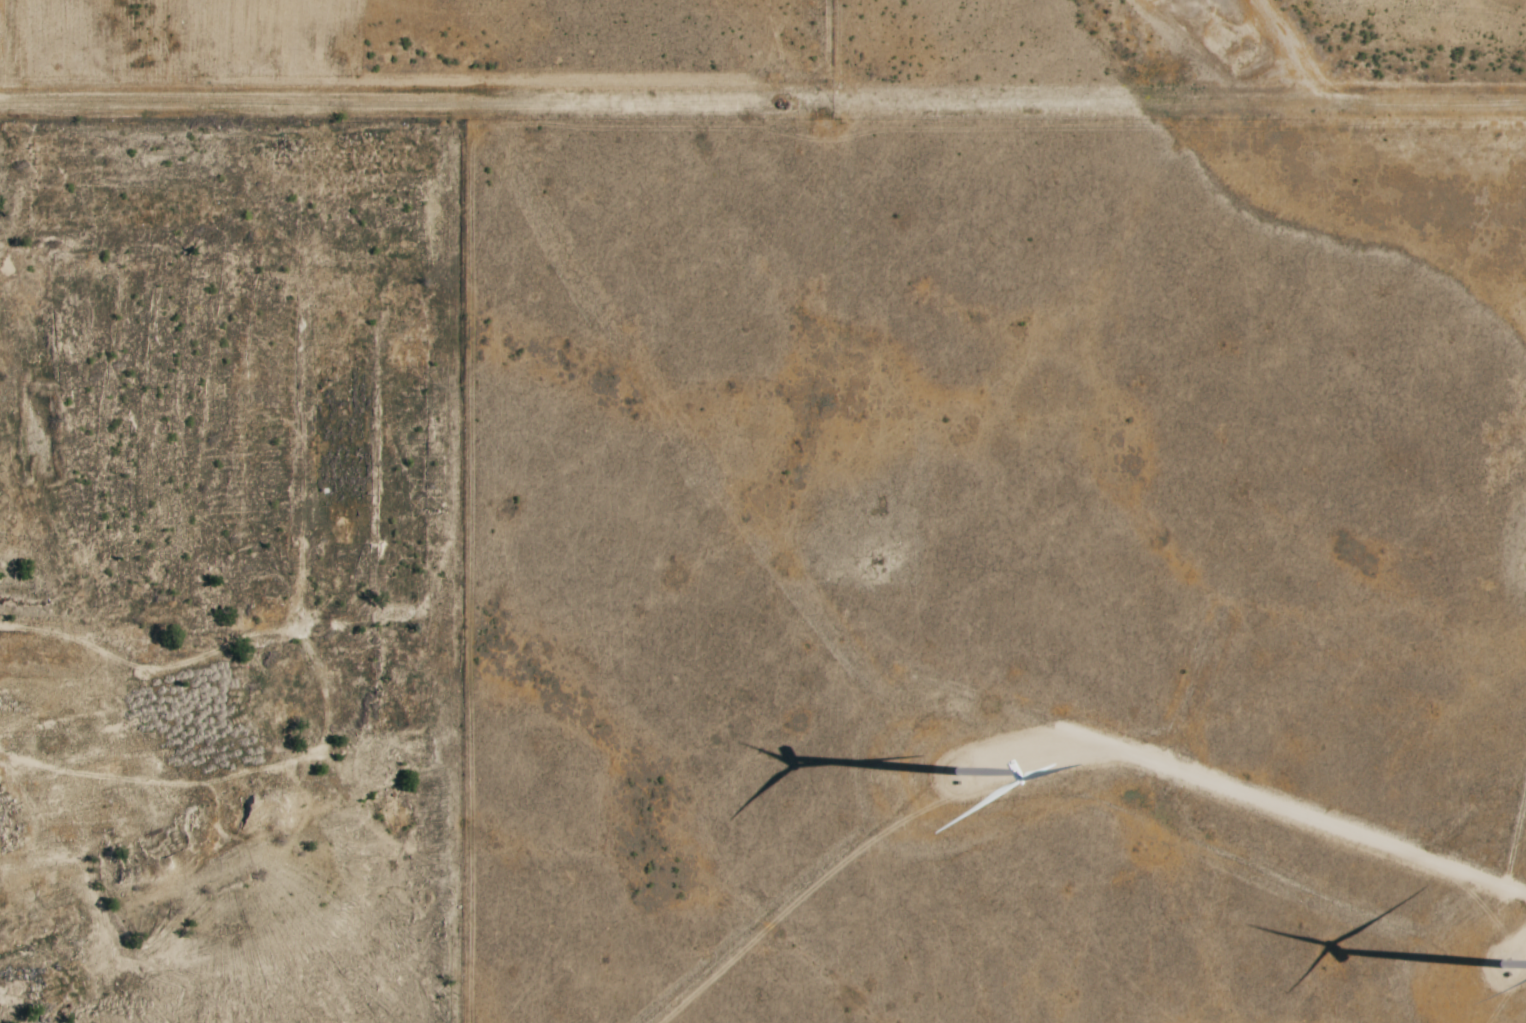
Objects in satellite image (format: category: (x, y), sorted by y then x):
wind turbine: (948, 775)
road: (1275, 805)
wind turbine: (1507, 953)

